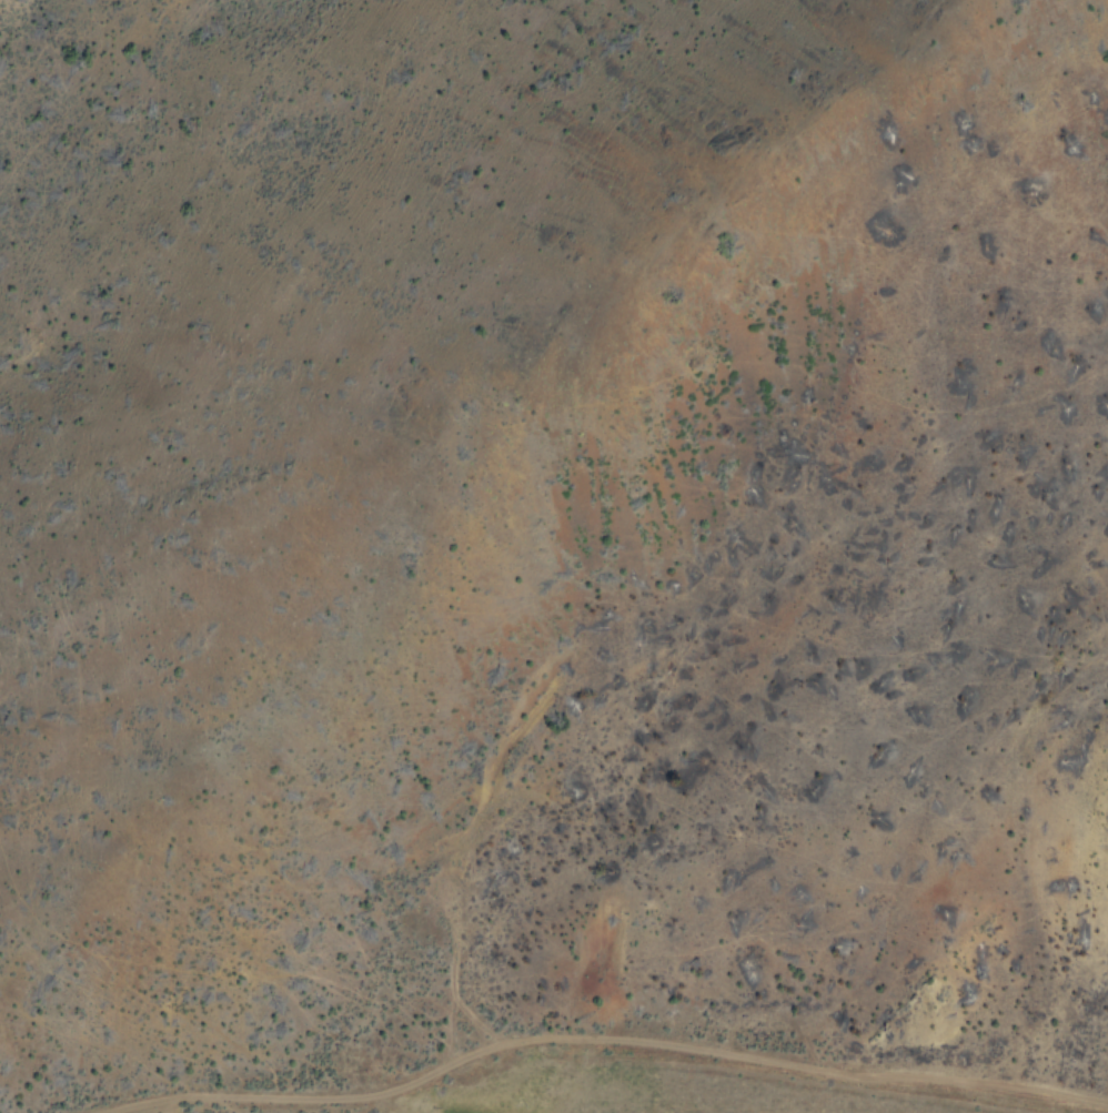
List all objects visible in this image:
road: (553, 1074)

